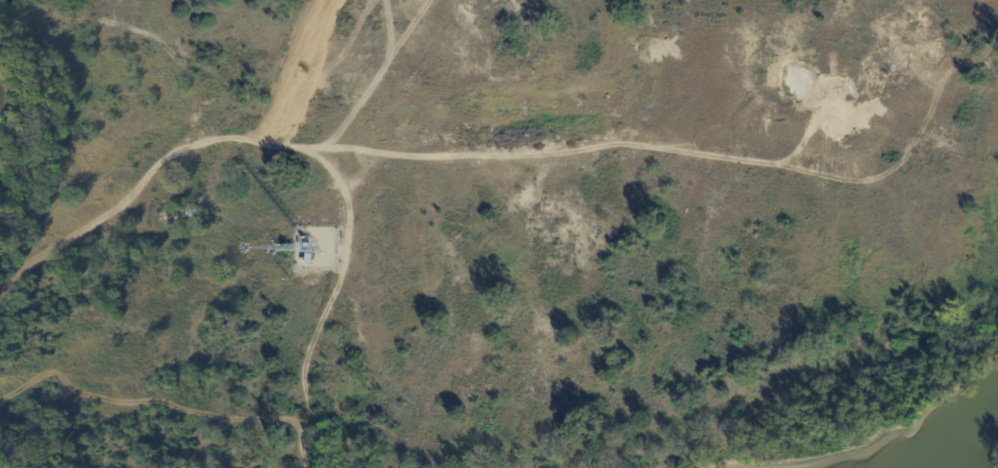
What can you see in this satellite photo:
road: (375, 77)
road: (923, 116)
road: (375, 151)
road: (346, 197)
building: (179, 217)
building: (311, 261)
road: (303, 358)

